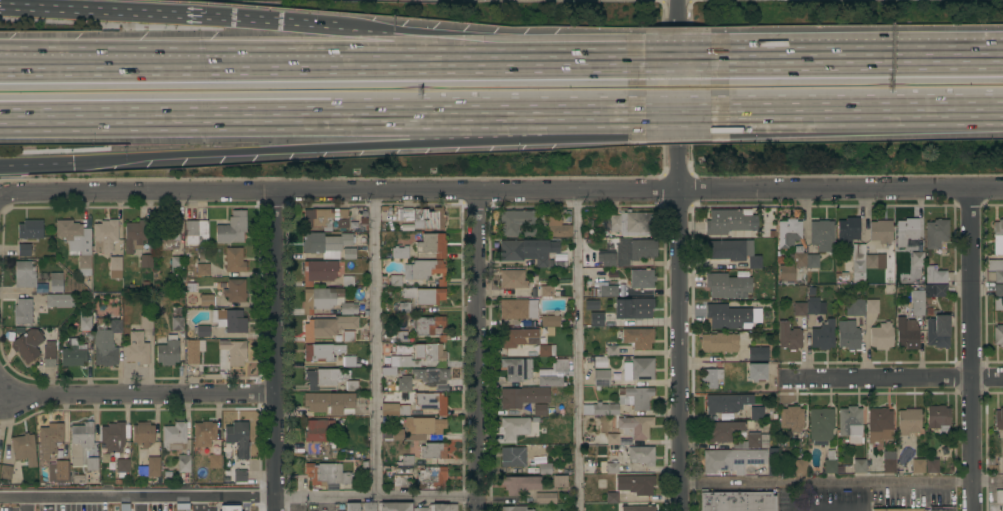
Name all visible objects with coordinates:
road: (167, 17)
road: (459, 42)
road: (855, 53)
road: (617, 56)
road: (679, 56)
road: (73, 61)
road: (365, 61)
road: (73, 67)
road: (852, 112)
road: (677, 113)
road: (326, 116)
road: (349, 144)
road: (35, 166)
road: (501, 191)
building: (358, 212)
building: (364, 214)
building: (422, 216)
building: (326, 218)
building: (364, 221)
building: (515, 222)
building: (726, 222)
building: (351, 224)
building: (630, 225)
building: (405, 227)
building: (232, 228)
building: (363, 228)
building: (558, 228)
building: (31, 229)
building: (881, 231)
building: (907, 231)
building: (197, 232)
building: (530, 232)
building: (847, 232)
building: (789, 233)
building: (936, 233)
building: (167, 235)
building: (822, 235)
building: (105, 236)
building: (135, 236)
building: (998, 237)
building: (77, 242)
building: (329, 245)
building: (433, 245)
building: (24, 250)
building: (528, 251)
building: (634, 251)
building: (734, 252)
building: (399, 253)
road: (679, 255)
building: (554, 258)
building: (607, 258)
building: (858, 259)
building: (917, 259)
building: (234, 260)
building: (146, 261)
building: (875, 261)
building: (554, 264)
building: (593, 264)
building: (797, 266)
building: (115, 268)
building: (176, 268)
building: (202, 269)
building: (996, 269)
building: (425, 270)
building: (322, 271)
building: (614, 273)
building: (935, 275)
building: (840, 276)
building: (27, 277)
building: (512, 279)
building: (642, 279)
building: (396, 280)
building: (56, 283)
building: (727, 285)
building: (607, 288)
building: (235, 290)
building: (999, 290)
building: (546, 291)
building: (555, 292)
building: (424, 295)
building: (925, 295)
building: (321, 299)
building: (60, 300)
building: (207, 301)
building: (998, 304)
building: (592, 305)
building: (814, 305)
building: (872, 307)
building: (349, 308)
building: (633, 308)
building: (518, 309)
building: (800, 309)
building: (855, 309)
building: (23, 311)
building: (366, 312)
building: (403, 313)
building: (727, 316)
building: (597, 319)
building: (177, 320)
building: (230, 320)
building: (85, 321)
building: (146, 322)
building: (550, 322)
building: (429, 326)
building: (328, 327)
building: (202, 331)
building: (938, 331)
building: (907, 334)
building: (823, 335)
building: (848, 335)
building: (998, 335)
building: (348, 336)
building: (401, 336)
building: (789, 336)
building: (881, 336)
building: (517, 337)
building: (638, 337)
building: (106, 340)
building: (719, 342)
building: (29, 345)
road: (375, 345)
building: (137, 349)
road: (971, 349)
building: (194, 350)
building: (547, 350)
building: (612, 350)
building: (168, 351)
road: (277, 351)
road: (476, 351)
road: (578, 351)
building: (234, 352)
building: (322, 352)
building: (429, 352)
building: (49, 354)
building: (73, 354)
building: (758, 354)
building: (349, 361)
building: (400, 361)
building: (600, 361)
building: (415, 363)
building: (517, 369)
building: (639, 369)
building: (757, 371)
building: (553, 374)
road: (897, 374)
building: (431, 376)
building: (616, 376)
building: (325, 377)
building: (601, 378)
building: (711, 378)
building: (404, 383)
building: (351, 386)
road: (139, 396)
building: (523, 397)
building: (431, 402)
building: (622, 402)
building: (330, 403)
building: (726, 403)
building: (395, 410)
building: (540, 410)
building: (756, 413)
building: (792, 419)
building: (938, 419)
building: (999, 419)
building: (909, 421)
building: (851, 424)
building: (821, 425)
building: (635, 426)
building: (879, 426)
building: (515, 427)
building: (416, 429)
building: (318, 433)
building: (143, 434)
building: (204, 434)
building: (735, 435)
building: (174, 436)
building: (113, 437)
building: (238, 438)
building: (612, 439)
building: (50, 440)
building: (24, 449)
building: (82, 450)
building: (433, 451)
building: (536, 451)
building: (66, 453)
building: (228, 454)
building: (641, 455)
building: (105, 457)
building: (513, 457)
building: (215, 459)
building: (407, 460)
building: (732, 460)
building: (830, 461)
building: (889, 462)
building: (184, 463)
building: (859, 465)
building: (800, 466)
building: (918, 466)
building: (932, 466)
building: (122, 467)
building: (612, 467)
building: (150, 468)
building: (545, 468)
building: (400, 469)
building: (531, 469)
building: (772, 469)
building: (6, 471)
building: (59, 472)
building: (15, 474)
building: (168, 474)
building: (235, 476)
building: (327, 476)
building: (430, 477)
building: (402, 480)
building: (118, 481)
building: (560, 481)
road: (842, 483)
building: (521, 484)
building: (636, 484)
road: (138, 490)
building: (999, 496)
building: (612, 497)
road: (377, 498)
building: (545, 498)
road: (24, 500)
road: (140, 500)
building: (737, 501)
building: (369, 506)
building: (396, 506)
building: (349, 507)
building: (437, 508)
building: (515, 508)
building: (638, 508)
building: (887, 509)
building: (941, 509)
building: (1002, 509)
road: (838, 510)
road: (854, 510)
building: (914, 510)

